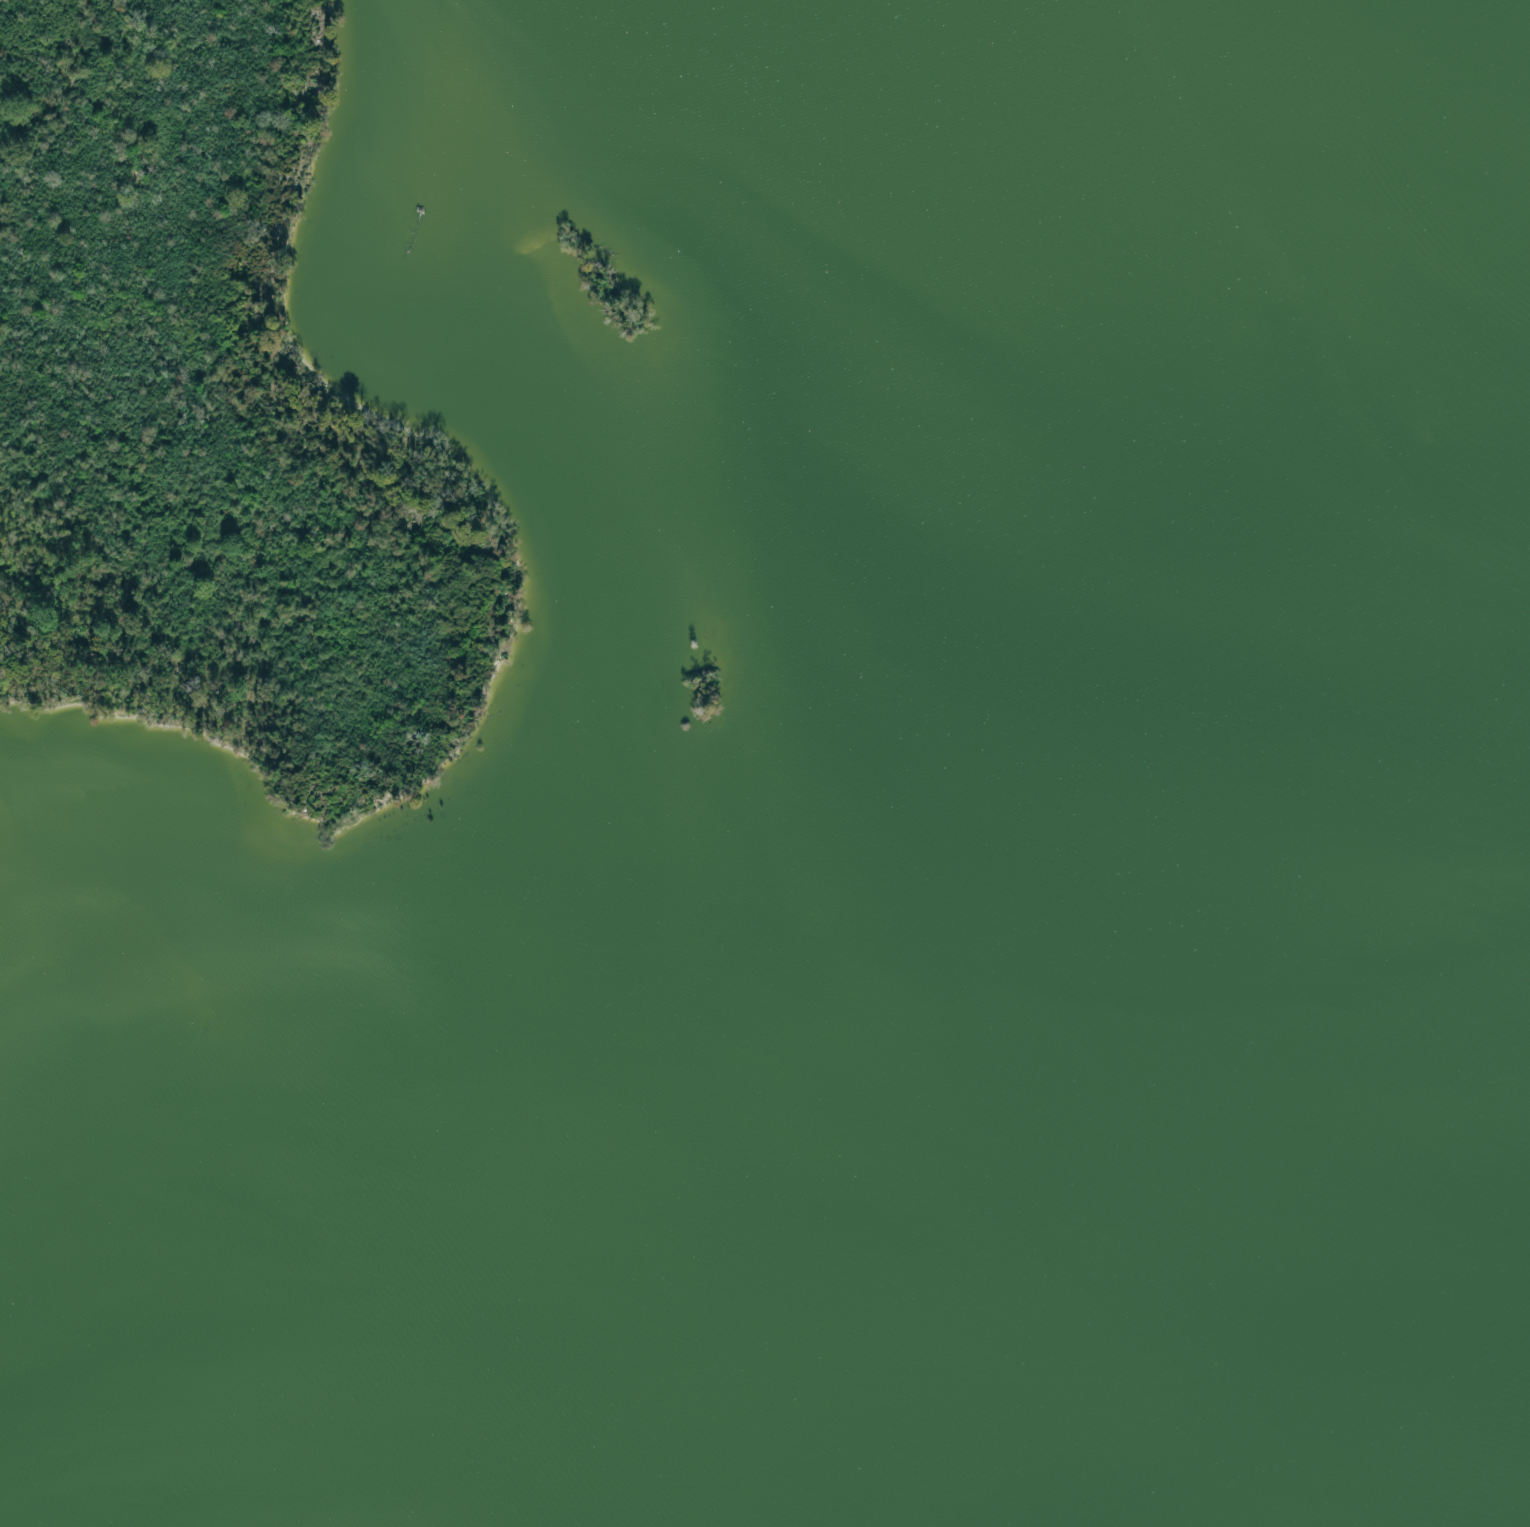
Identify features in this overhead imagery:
river: (1396, 534)

